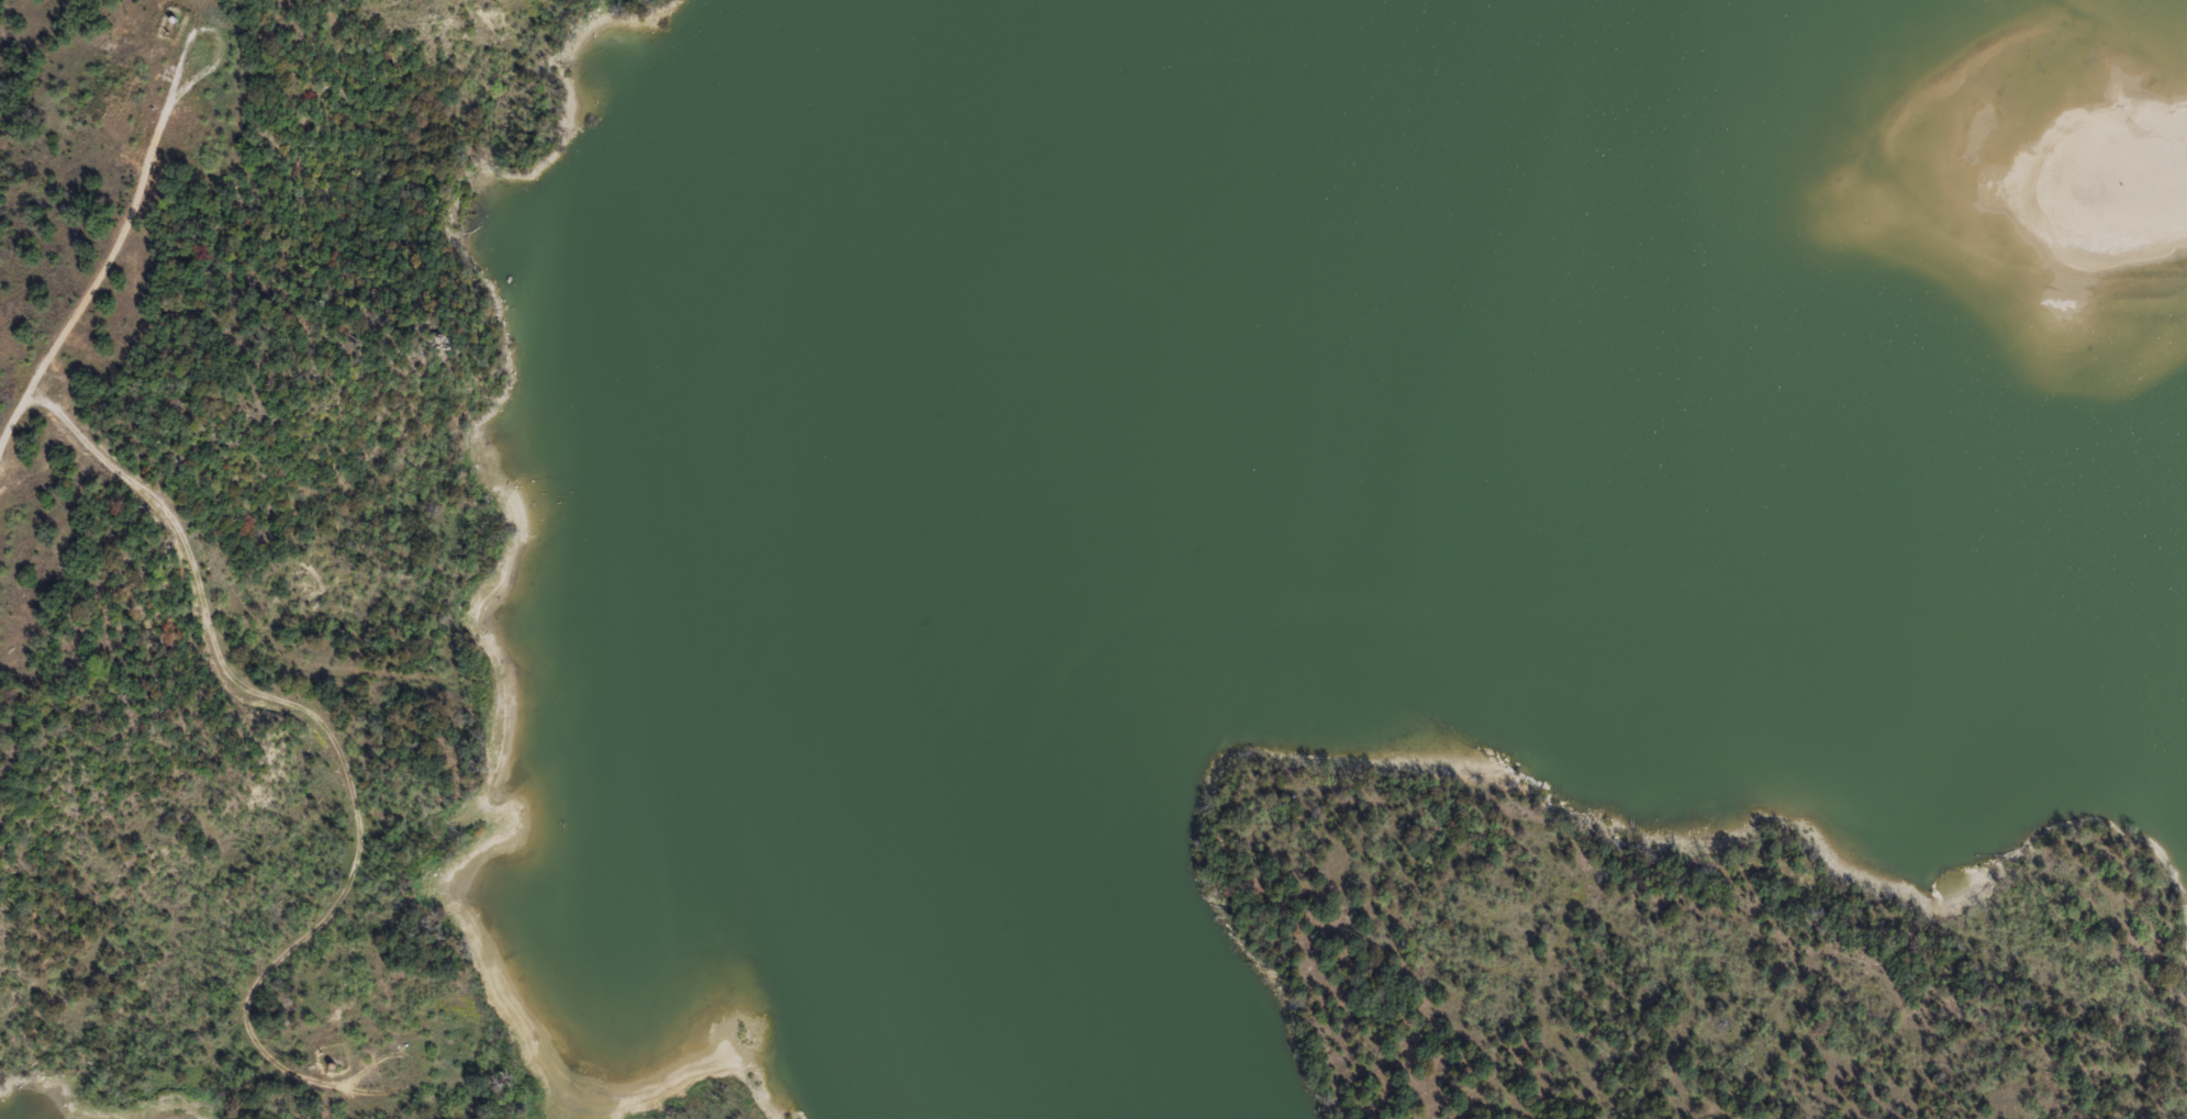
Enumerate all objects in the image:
park: (2090, 169)
road: (107, 251)
road: (323, 718)

